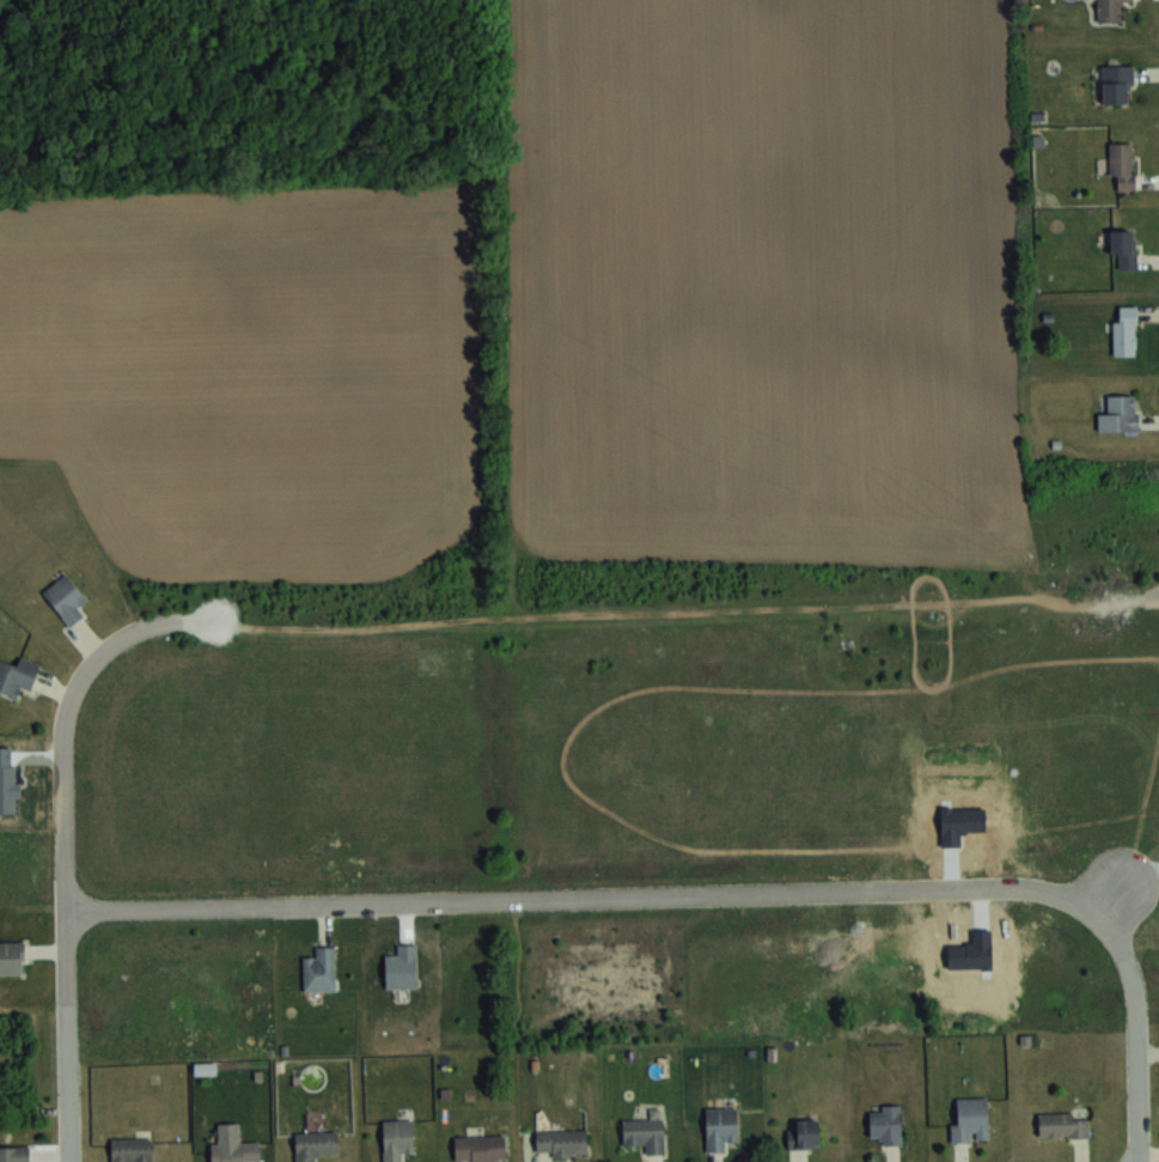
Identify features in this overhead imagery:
building: (1109, 10)
building: (1116, 83)
building: (1122, 165)
building: (1123, 247)
crop: (566, 318)
building: (1124, 330)
building: (1118, 414)
building: (66, 598)
building: (17, 675)
road: (1140, 802)
road: (60, 841)
road: (727, 894)
building: (11, 957)
building: (319, 969)
building: (970, 1118)
building: (885, 1124)
building: (1063, 1124)
building: (719, 1127)
building: (645, 1132)
building: (804, 1133)
building: (397, 1138)
building: (561, 1143)
building: (315, 1144)
building: (480, 1148)
building: (132, 1150)
building: (236, 1152)
building: (14, 1154)

